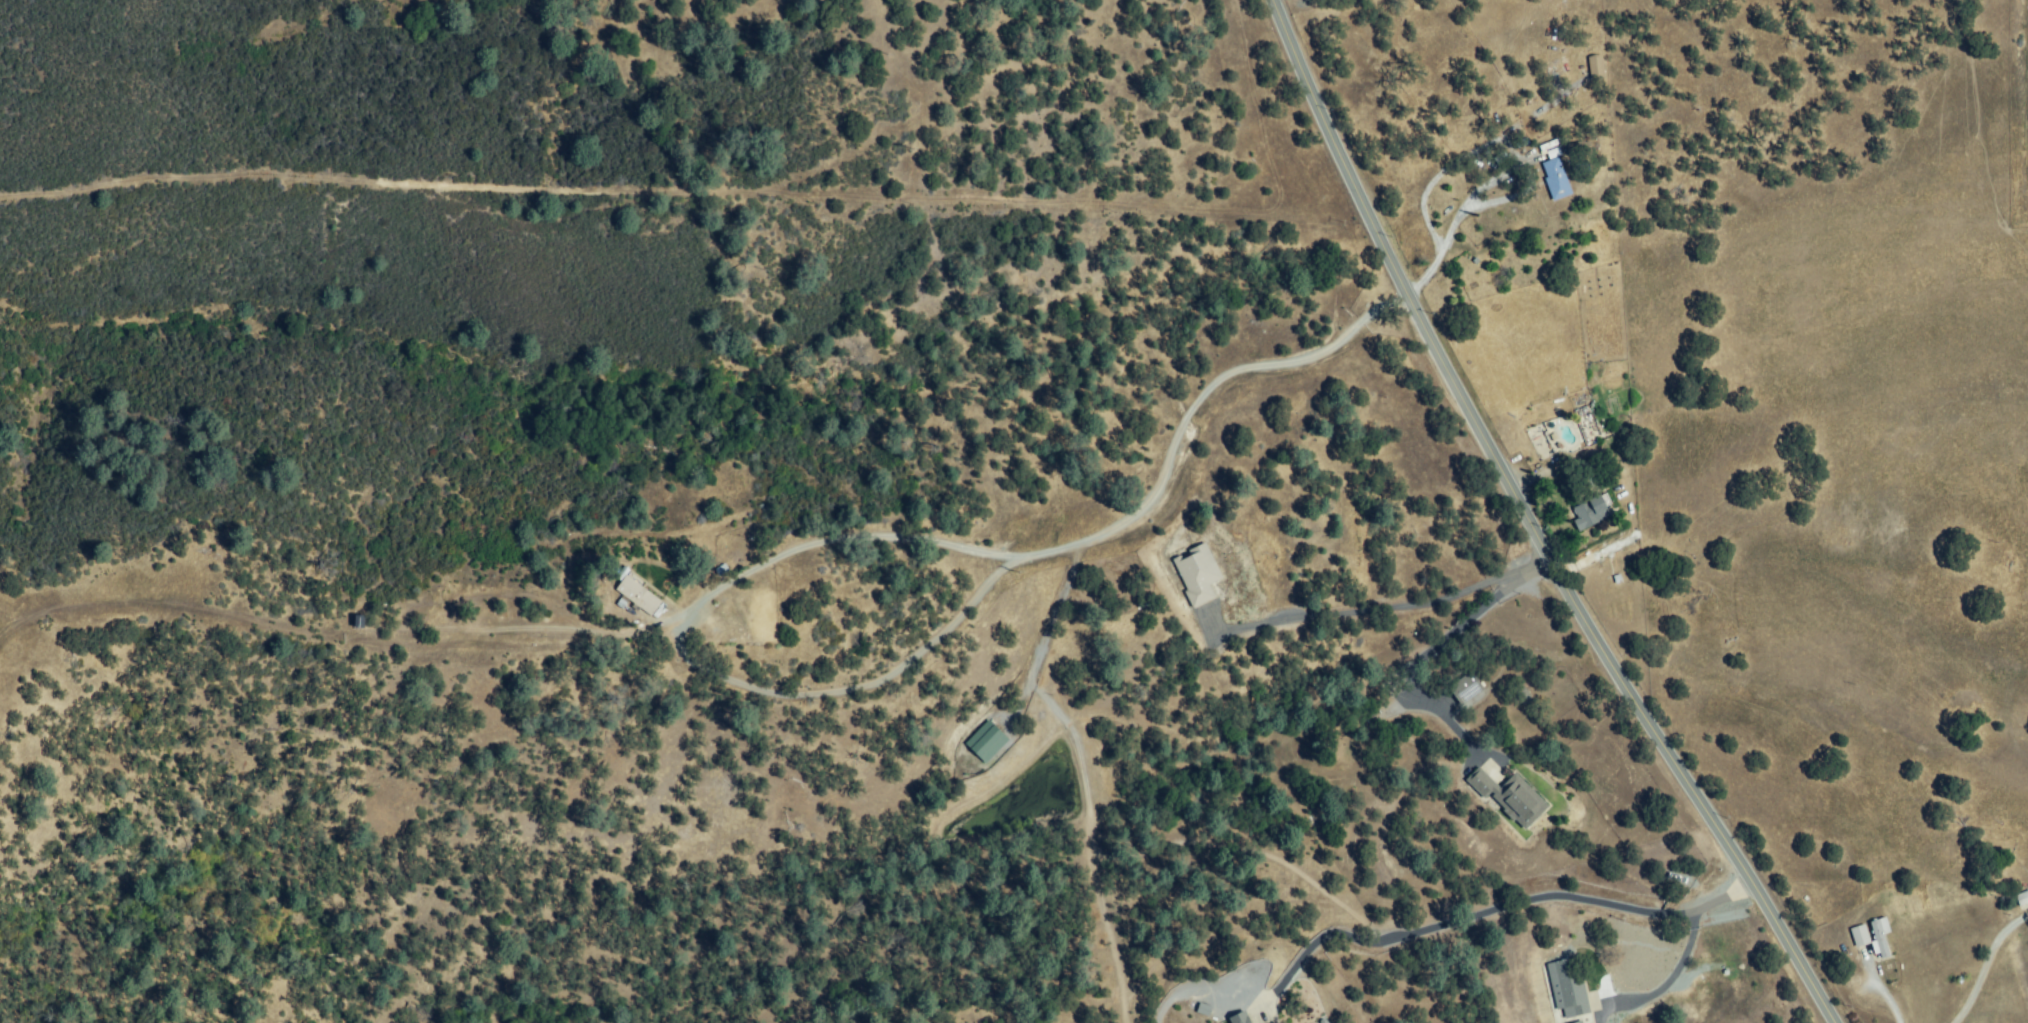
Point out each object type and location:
building: (1597, 68)
road: (918, 92)
building: (1579, 148)
road: (1470, 154)
building: (1556, 179)
road: (1301, 185)
road: (727, 191)
road: (1449, 234)
road: (1396, 297)
building: (1590, 513)
road: (1530, 523)
road: (1068, 546)
building: (1198, 575)
building: (640, 597)
road: (1386, 606)
road: (539, 628)
road: (1429, 652)
road: (1036, 678)
building: (1466, 689)
road: (852, 690)
building: (987, 742)
building: (1511, 798)
building: (2023, 899)
road: (1470, 914)
building: (1860, 937)
building: (1880, 939)
road: (1684, 953)
road: (1979, 959)
building: (1571, 987)
road: (1883, 994)
building: (1240, 1019)
building: (1578, 1022)

